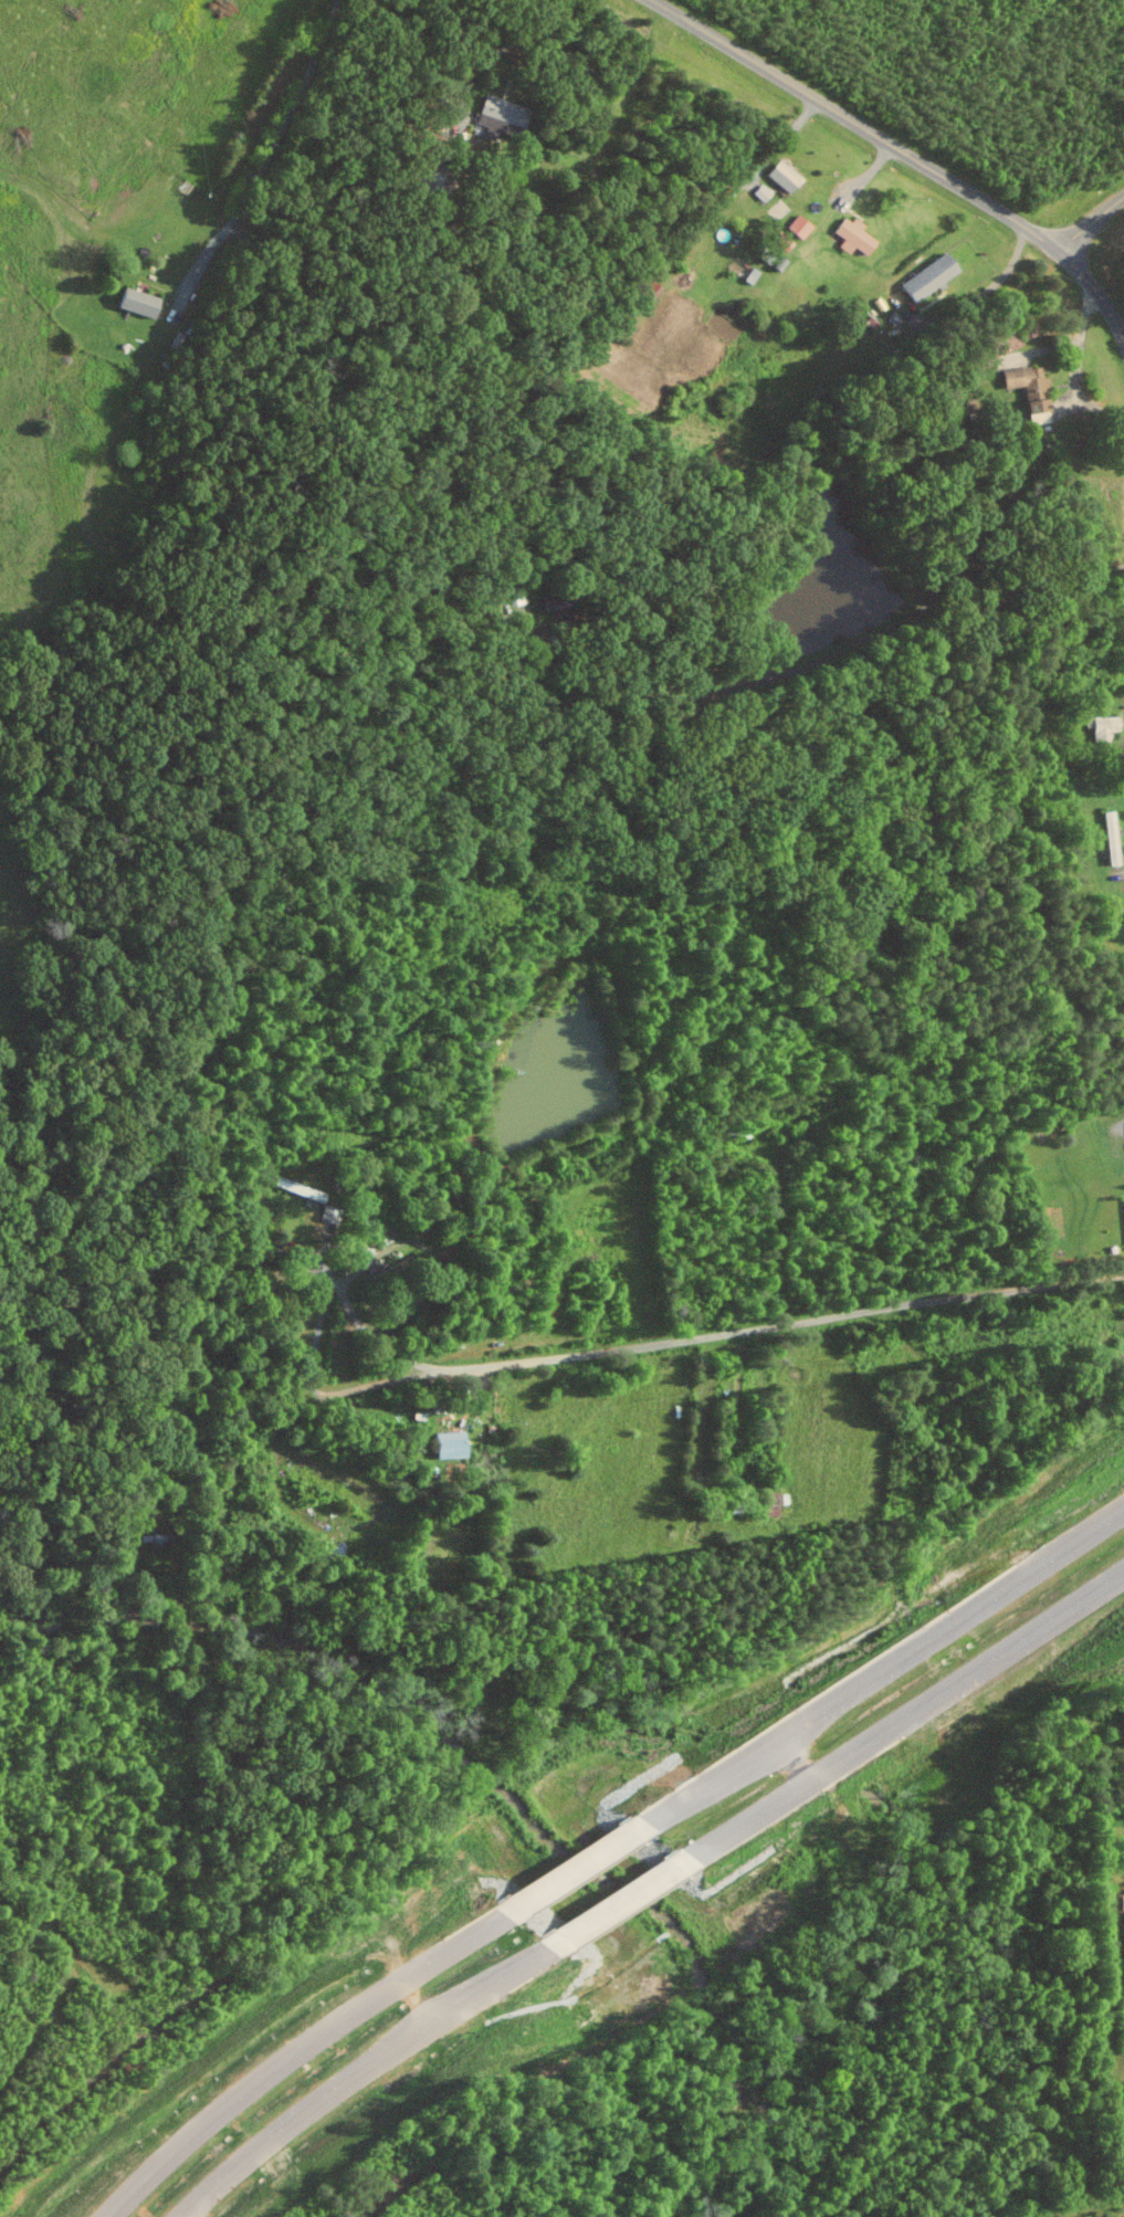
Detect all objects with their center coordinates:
road: (500, 50)
road: (532, 75)
building: (500, 117)
road: (275, 141)
road: (903, 153)
building: (782, 177)
road: (1090, 222)
building: (797, 227)
building: (852, 237)
building: (782, 243)
building: (750, 275)
building: (926, 277)
road: (986, 291)
building: (135, 303)
road: (1076, 368)
building: (1028, 391)
road: (987, 610)
road: (693, 701)
building: (1102, 726)
building: (1110, 838)
building: (290, 1185)
road: (337, 1284)
road: (719, 1333)
building: (449, 1444)
building: (774, 1502)
road: (878, 1673)
road: (899, 1719)
road: (575, 1870)
road: (617, 1902)
road: (304, 2049)
road: (363, 2068)

